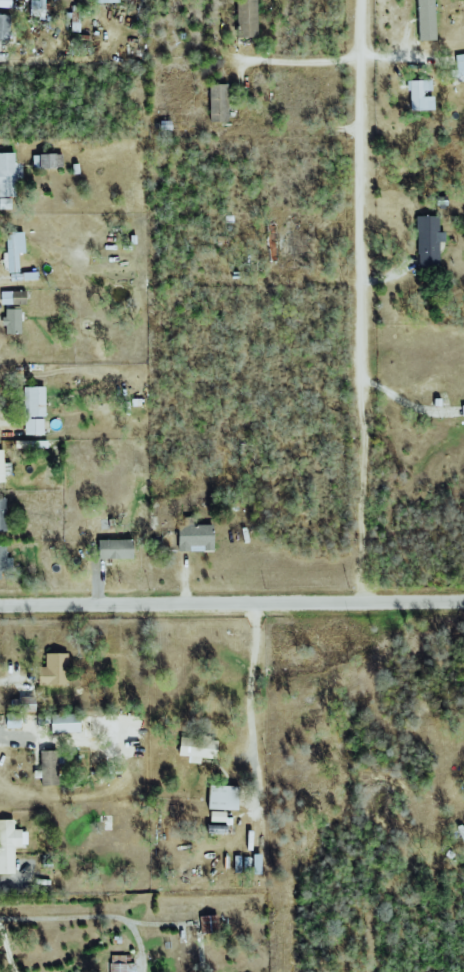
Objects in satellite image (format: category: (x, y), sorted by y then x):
building: (106, 1)
building: (5, 4)
building: (37, 8)
building: (246, 18)
building: (426, 20)
building: (4, 27)
road: (303, 61)
building: (458, 70)
building: (420, 95)
building: (218, 103)
building: (47, 161)
building: (7, 175)
building: (5, 203)
building: (428, 241)
building: (14, 250)
building: (23, 276)
building: (13, 297)
road: (362, 301)
building: (12, 321)
road: (404, 402)
building: (34, 410)
road: (9, 422)
building: (4, 468)
building: (3, 515)
building: (195, 538)
building: (115, 549)
building: (4, 560)
road: (231, 602)
building: (53, 670)
road: (9, 680)
road: (248, 699)
building: (23, 704)
building: (13, 721)
building: (64, 723)
road: (18, 740)
building: (197, 748)
building: (49, 768)
building: (223, 798)
building: (215, 830)
building: (9, 845)
building: (242, 864)
building: (256, 864)
road: (15, 880)
road: (91, 923)
building: (209, 923)
road: (4, 956)
building: (120, 964)

